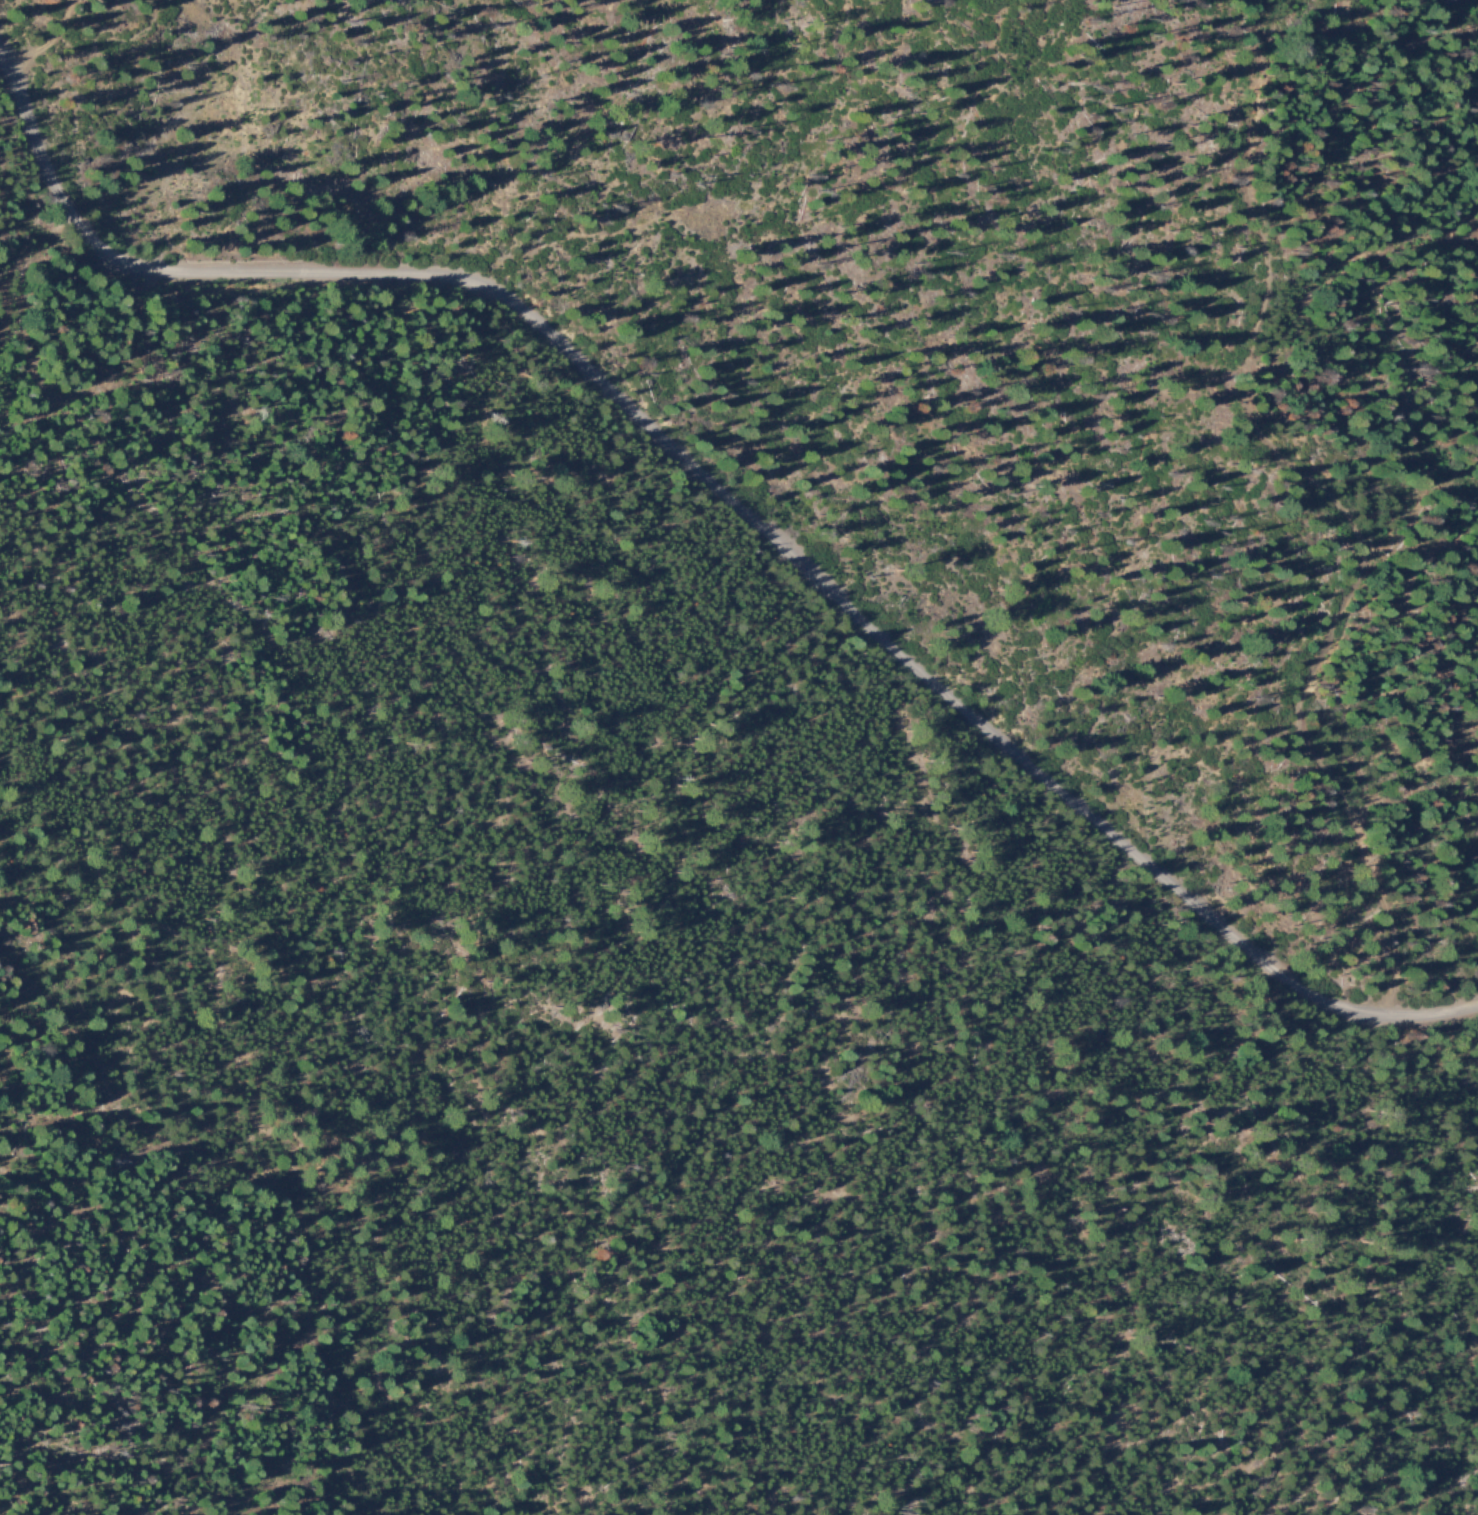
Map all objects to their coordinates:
road: (740, 500)
road: (1339, 511)
road: (243, 1226)

